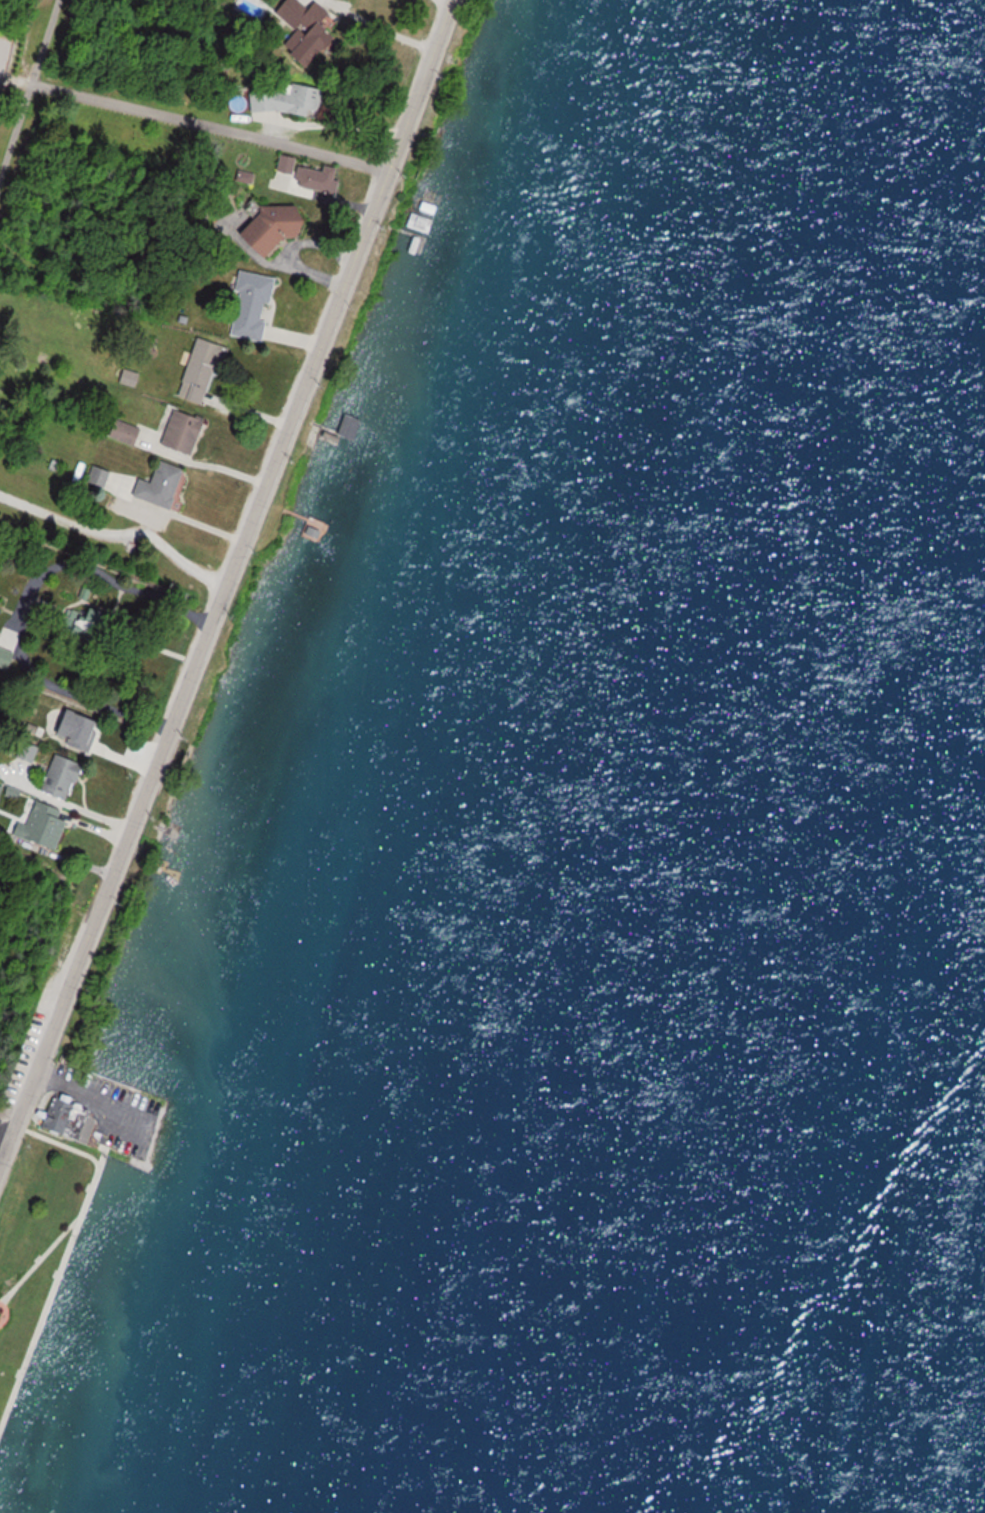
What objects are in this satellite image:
road: (376, 23)
road: (27, 90)
road: (328, 126)
road: (204, 467)
road: (220, 581)
road: (143, 592)
park: (22, 926)
building: (68, 1127)
road: (5, 1135)
river: (907, 1332)

